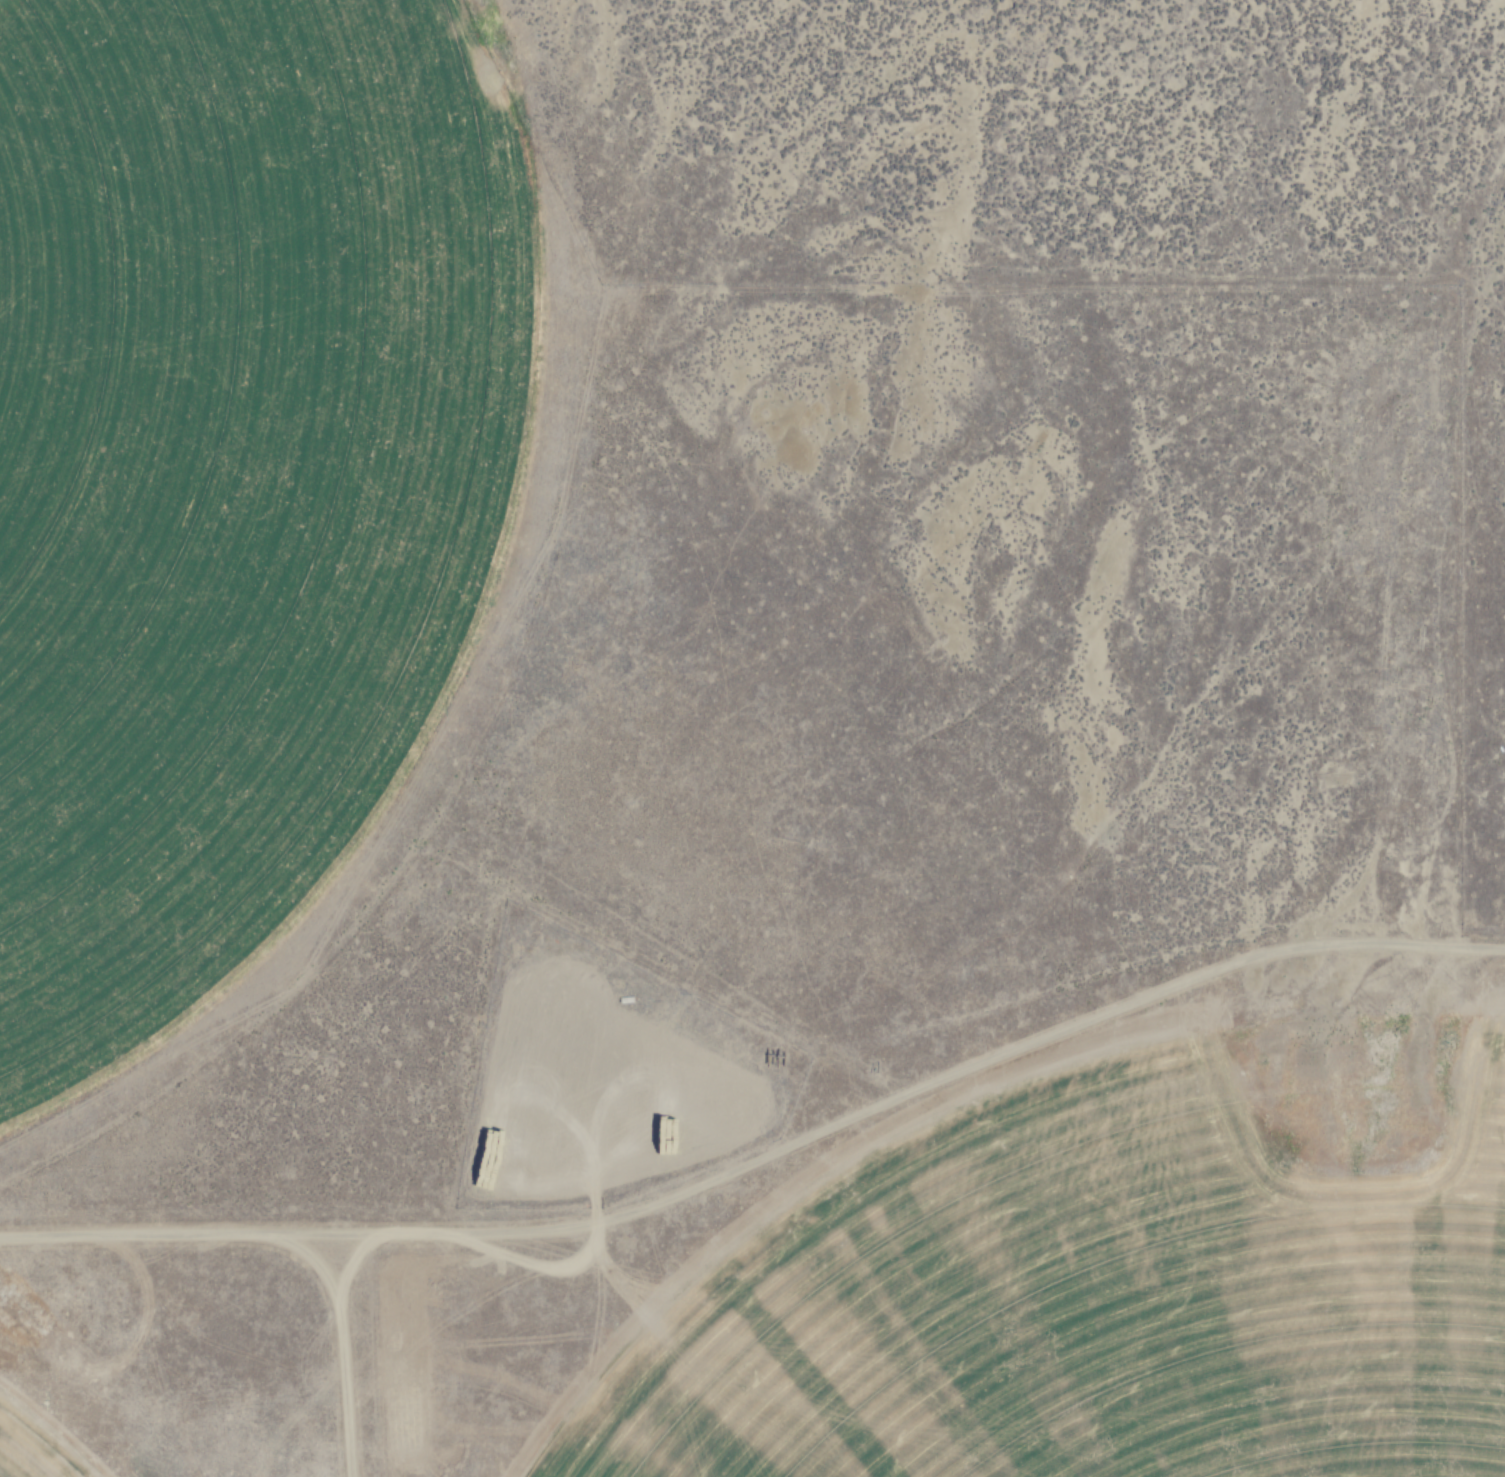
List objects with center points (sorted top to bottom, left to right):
crop: (41, 1436)

